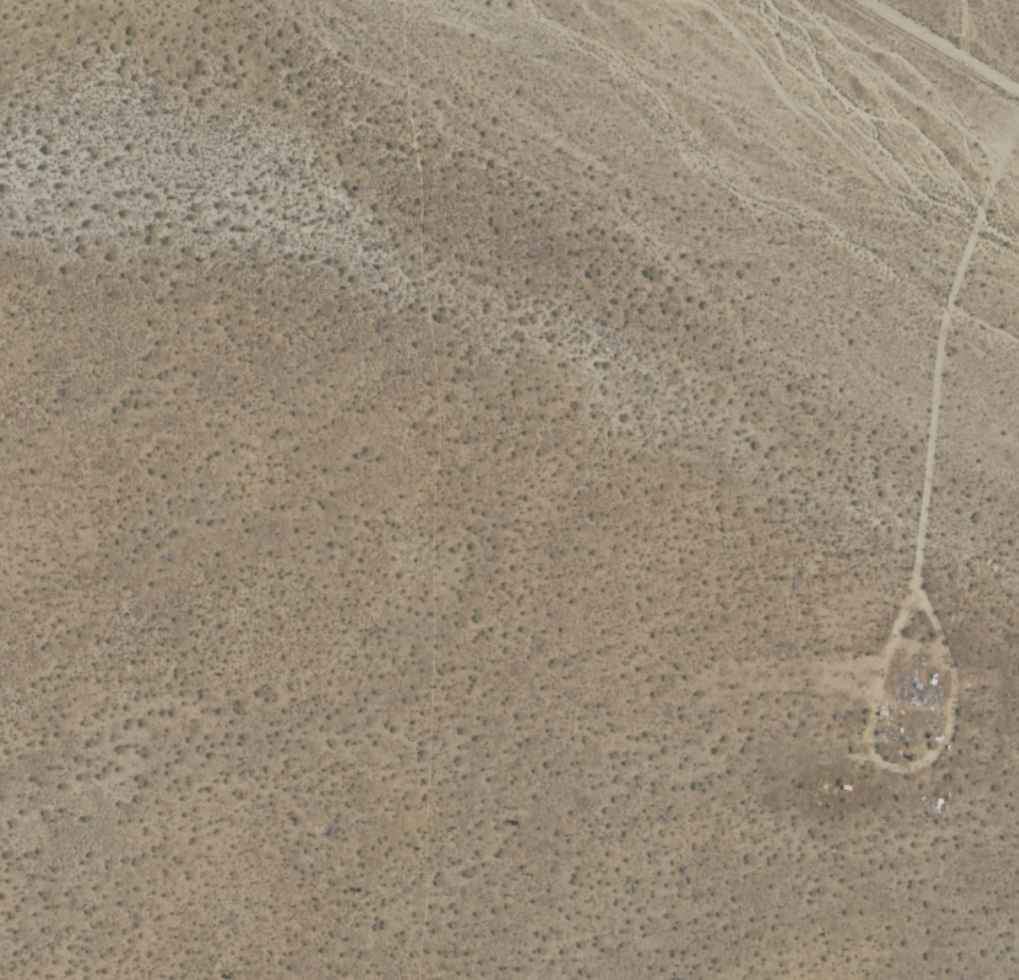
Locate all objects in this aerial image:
road: (940, 45)

